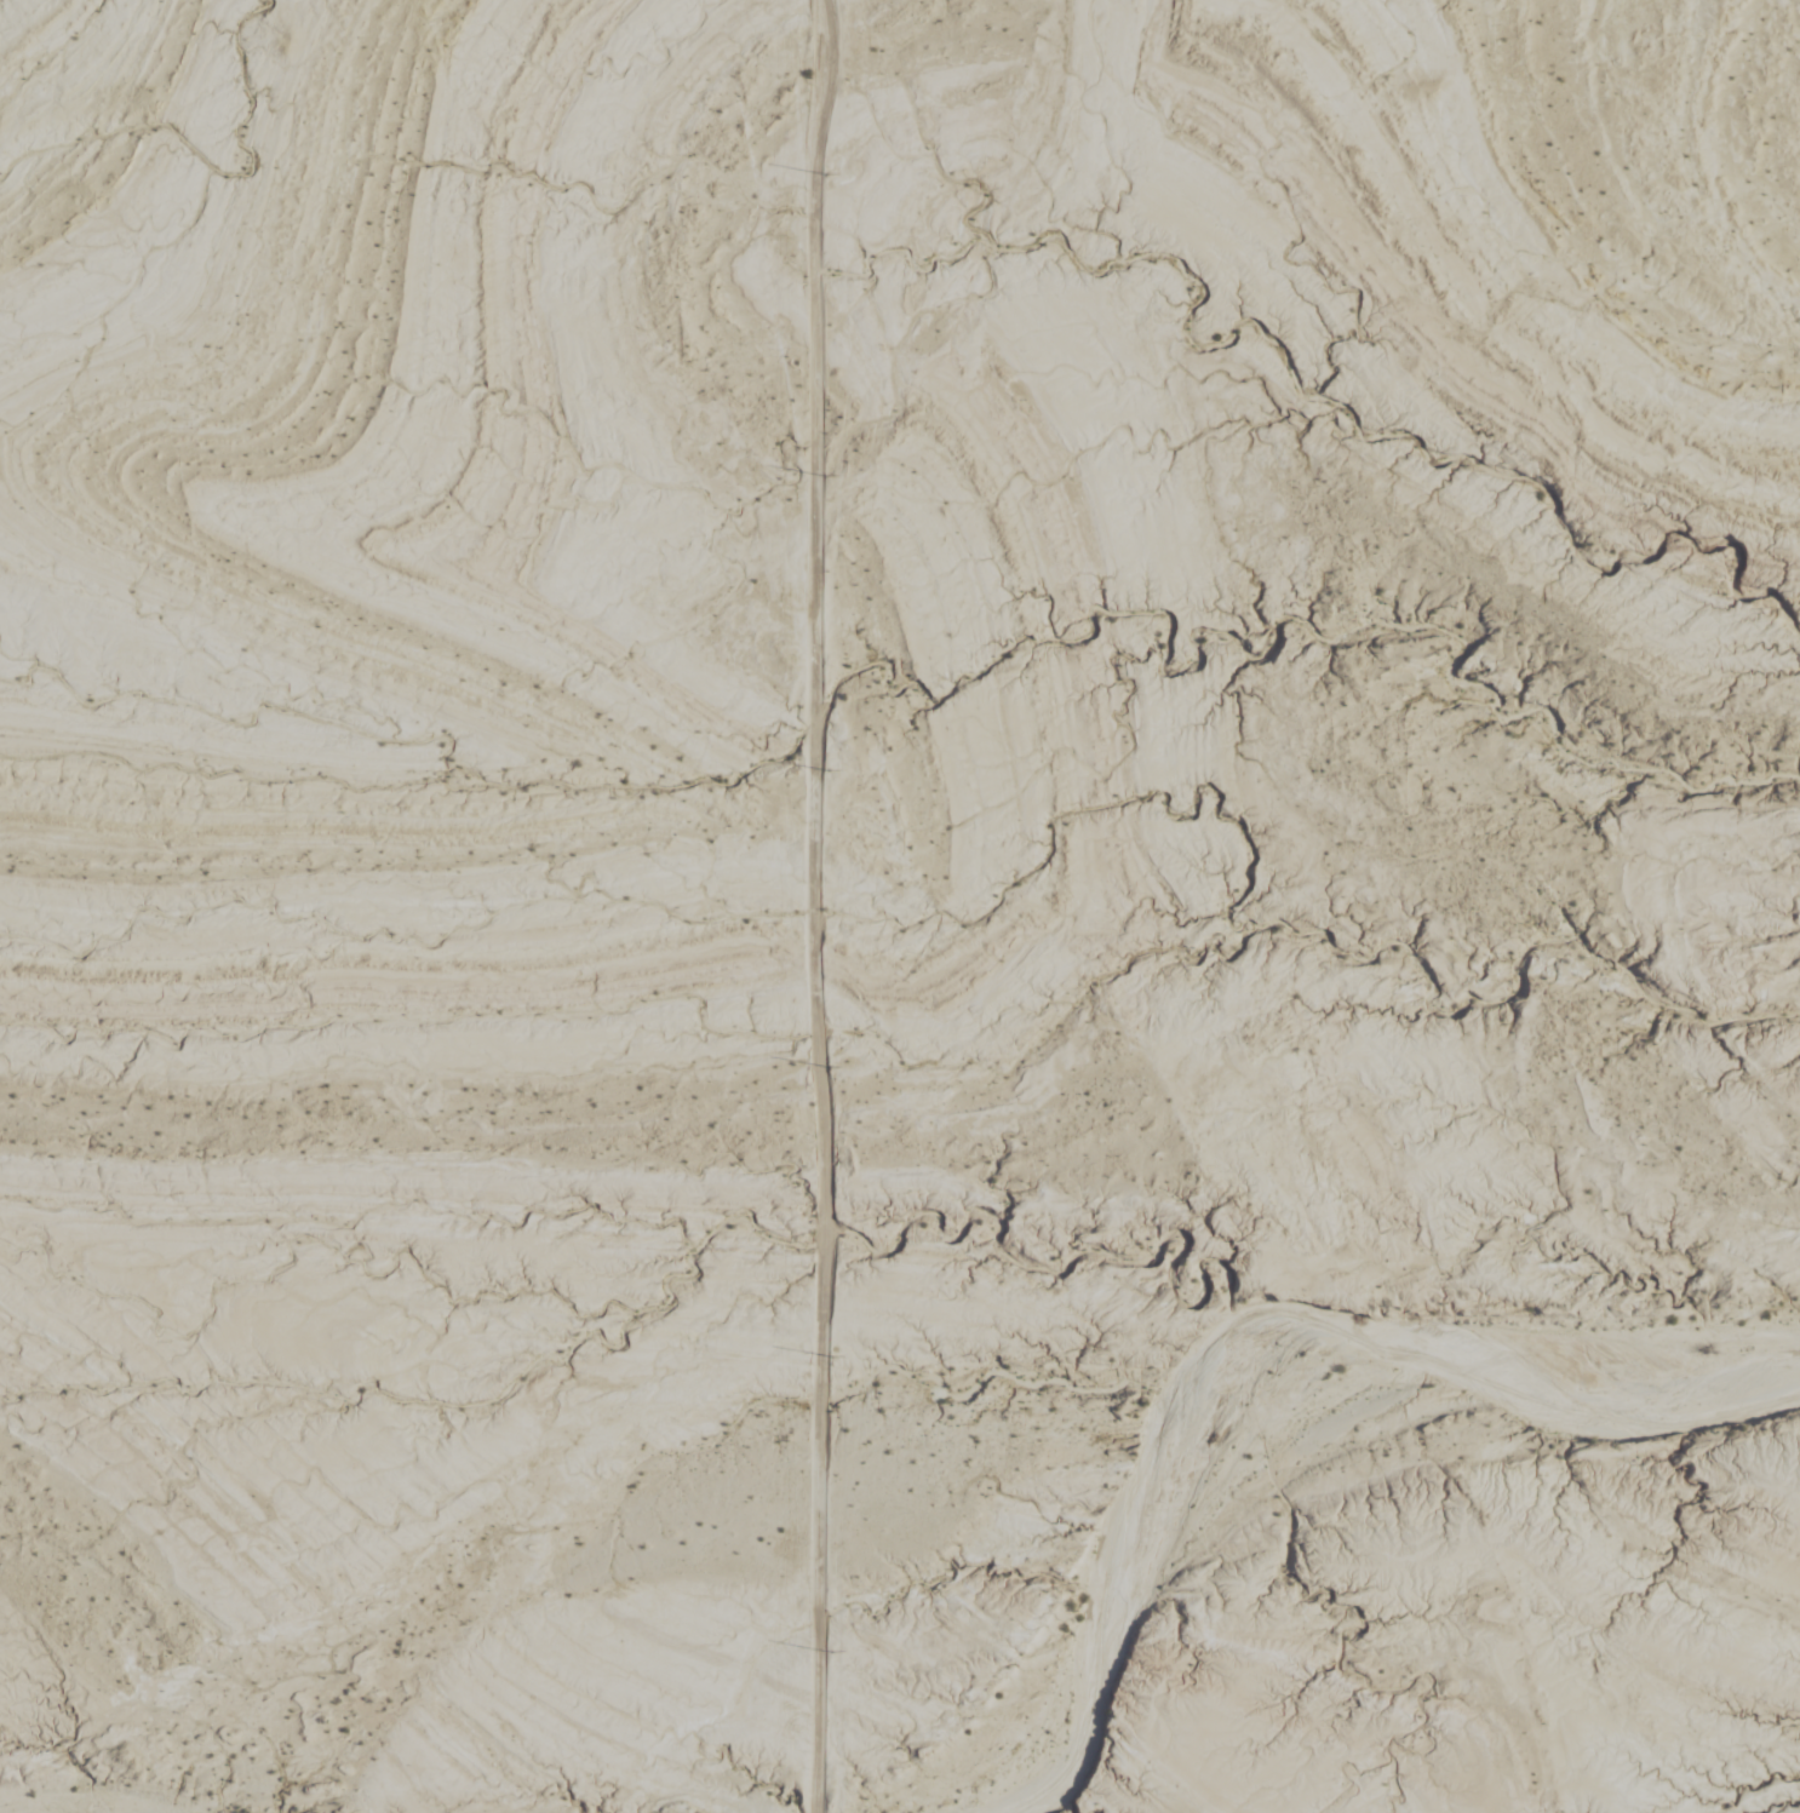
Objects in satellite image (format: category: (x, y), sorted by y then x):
road: (815, 906)
road: (1251, 1316)

